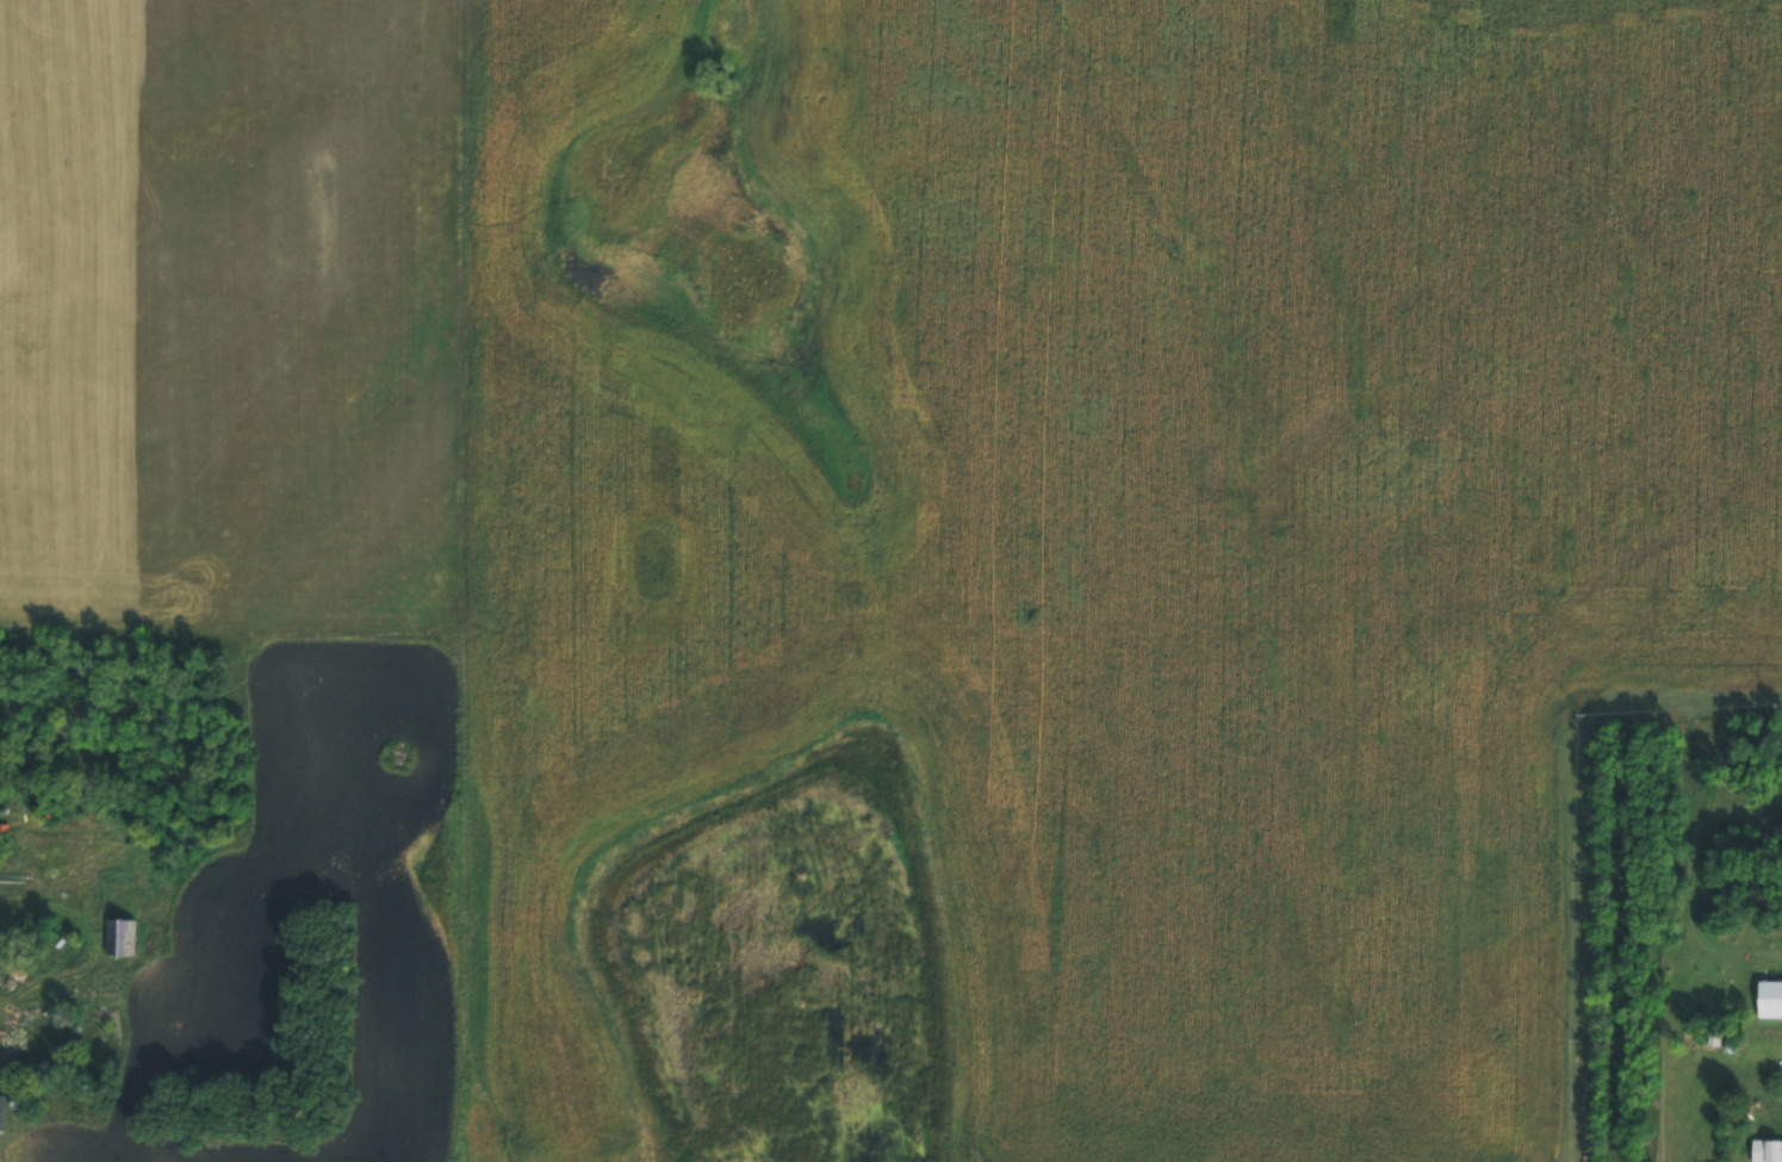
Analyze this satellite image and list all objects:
building: (120, 937)
building: (1769, 1000)
building: (68, 1052)
building: (24, 1099)
building: (1767, 1151)

